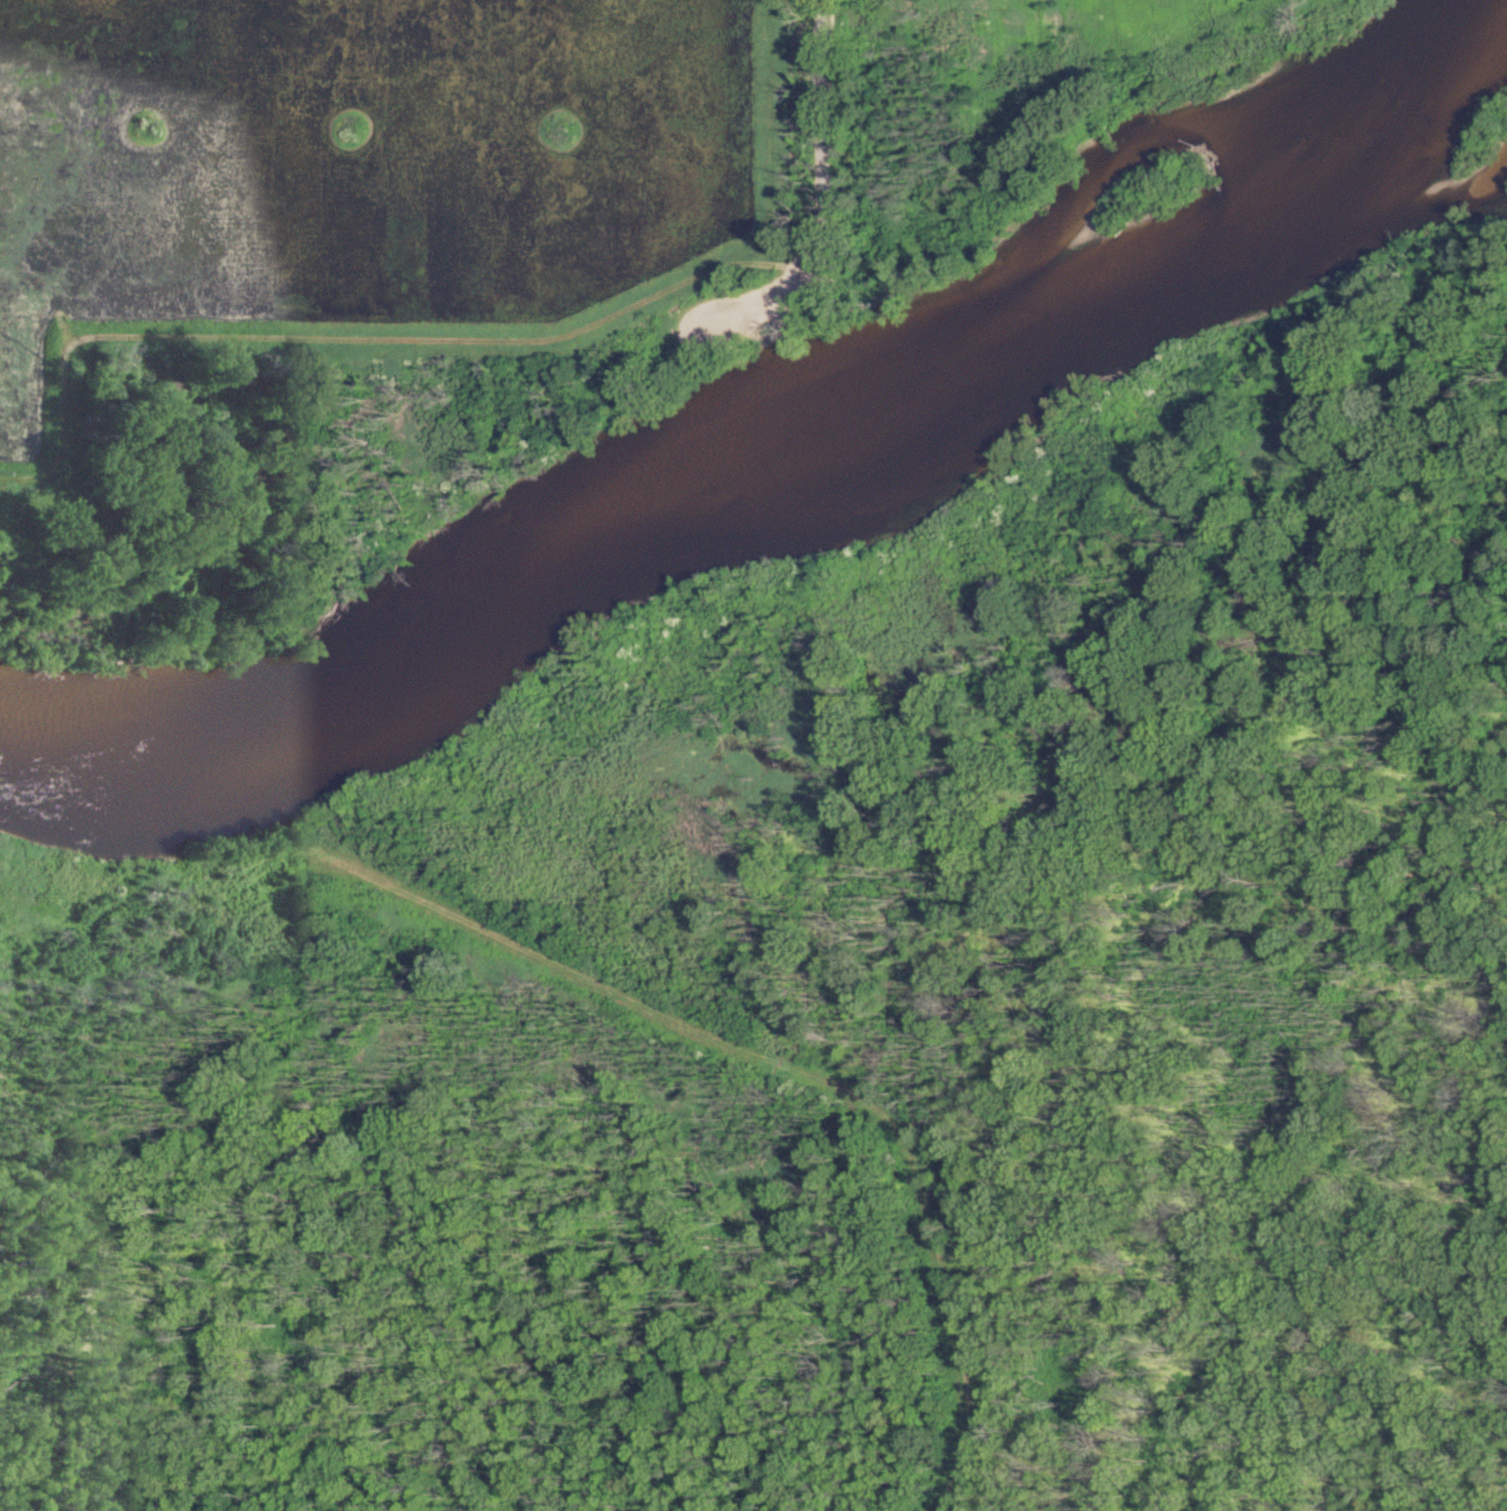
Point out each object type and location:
road: (835, 132)
river: (770, 476)
road: (740, 613)
road: (900, 1107)

